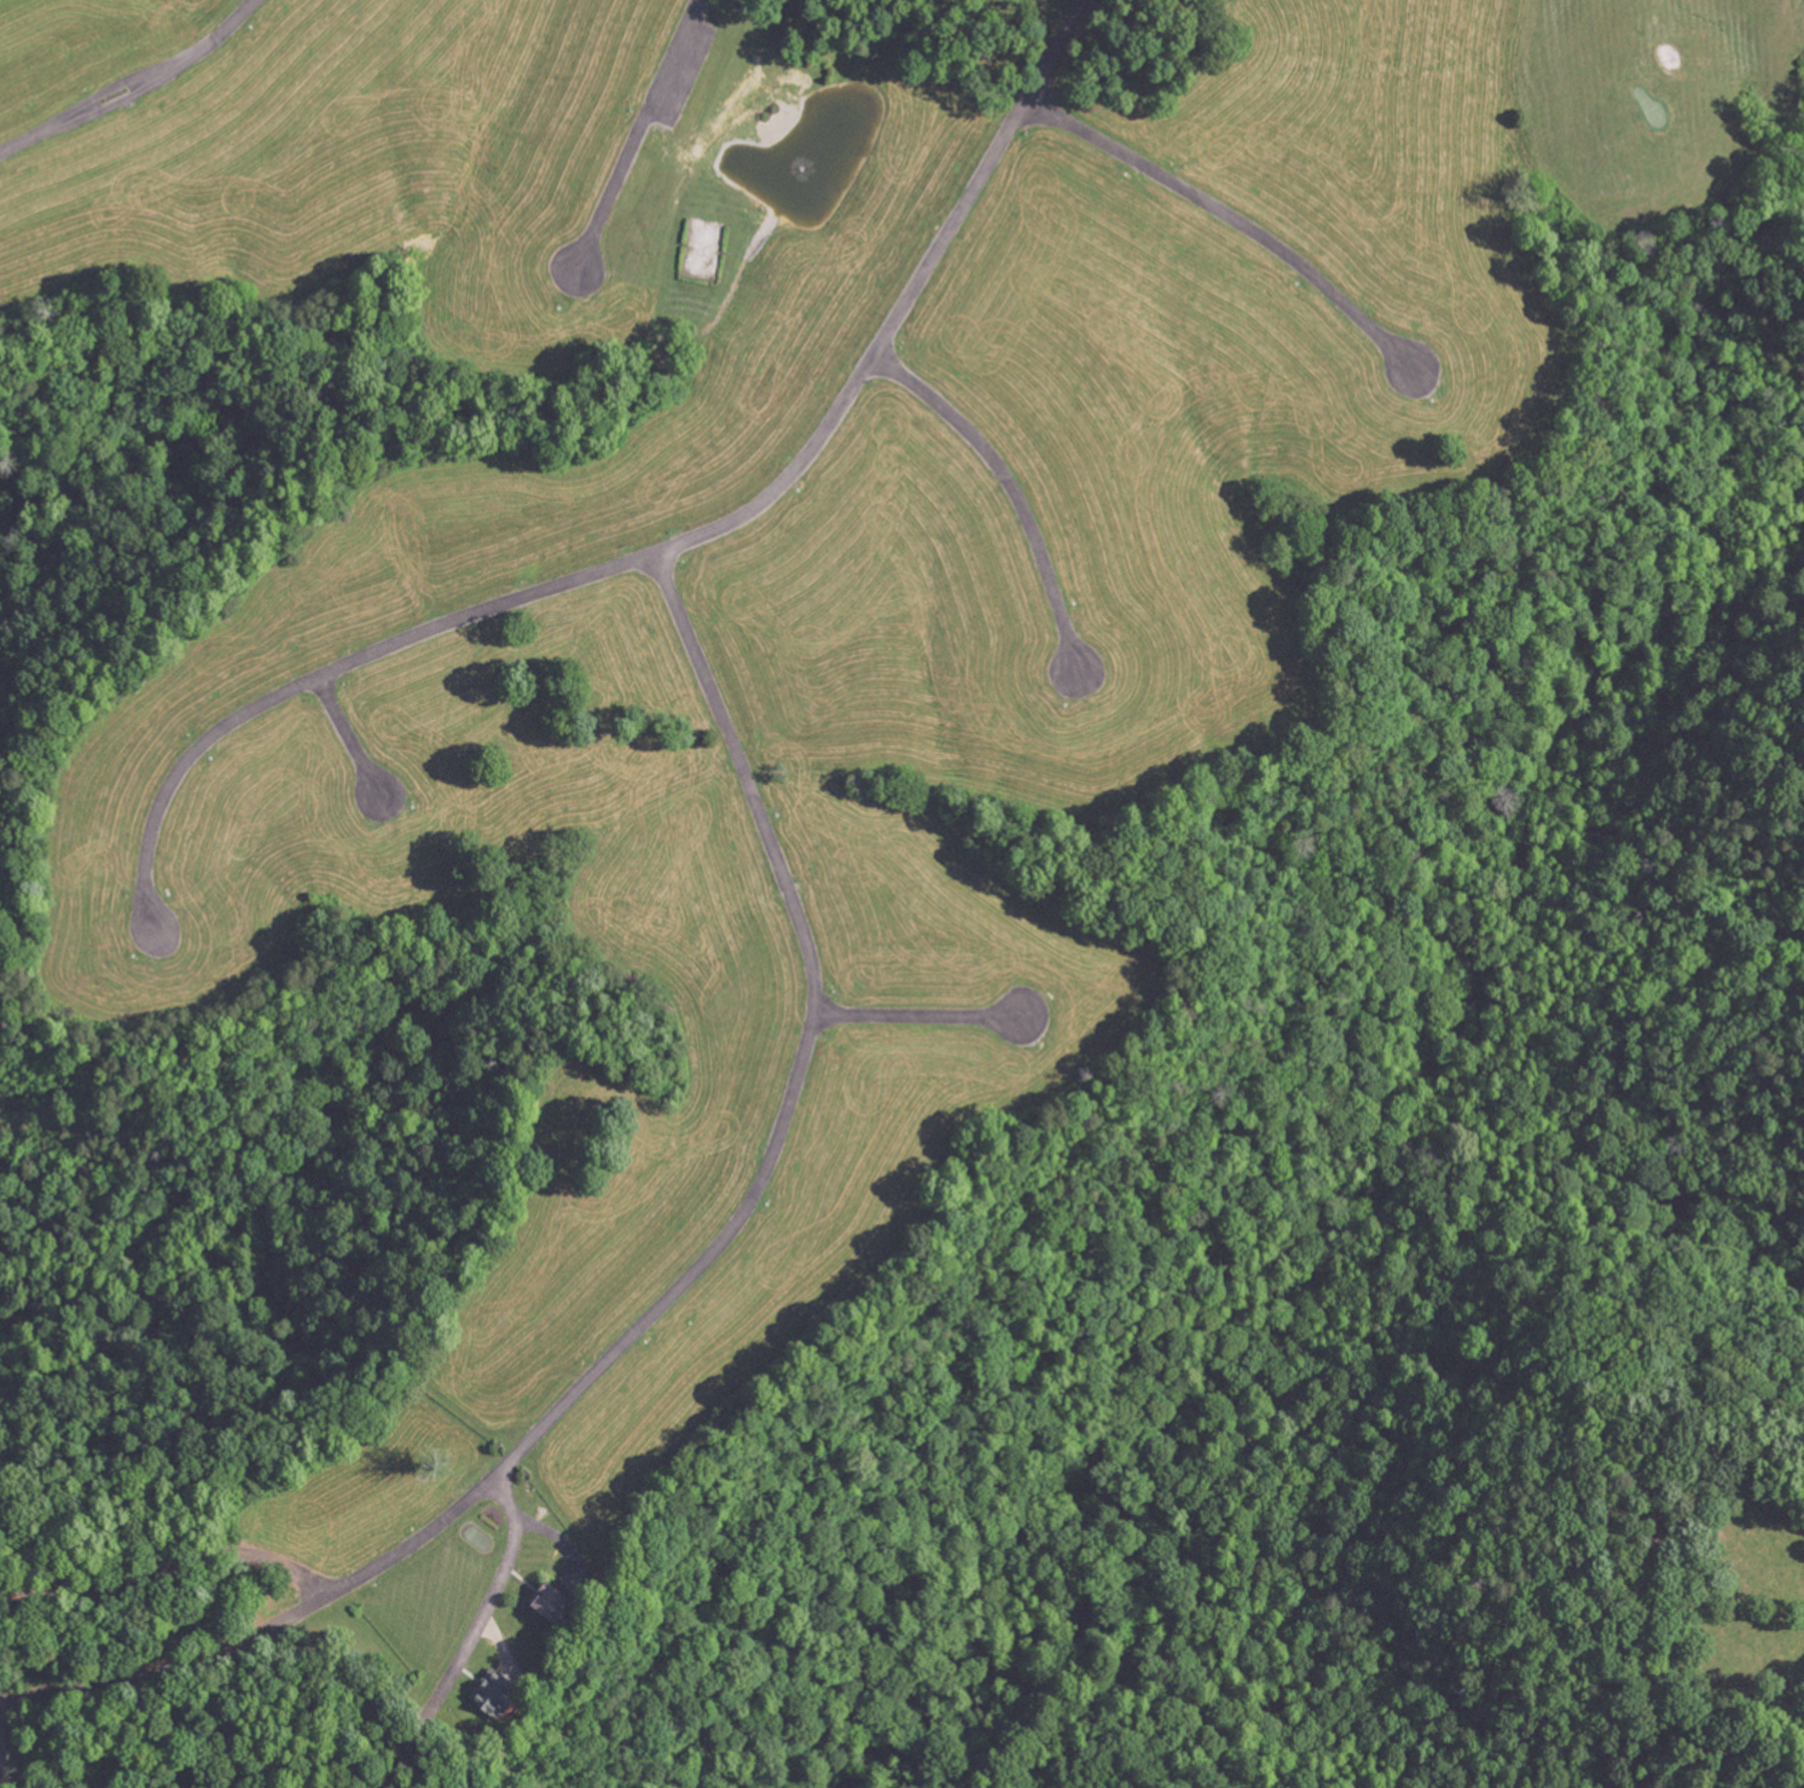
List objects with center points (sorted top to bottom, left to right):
road: (129, 83)
road: (636, 132)
road: (1230, 213)
road: (1009, 486)
road: (660, 545)
road: (346, 733)
road: (917, 1011)
road: (773, 1143)
road: (170, 1563)
building: (543, 1602)
road: (474, 1638)
road: (174, 1664)
building: (488, 1693)

